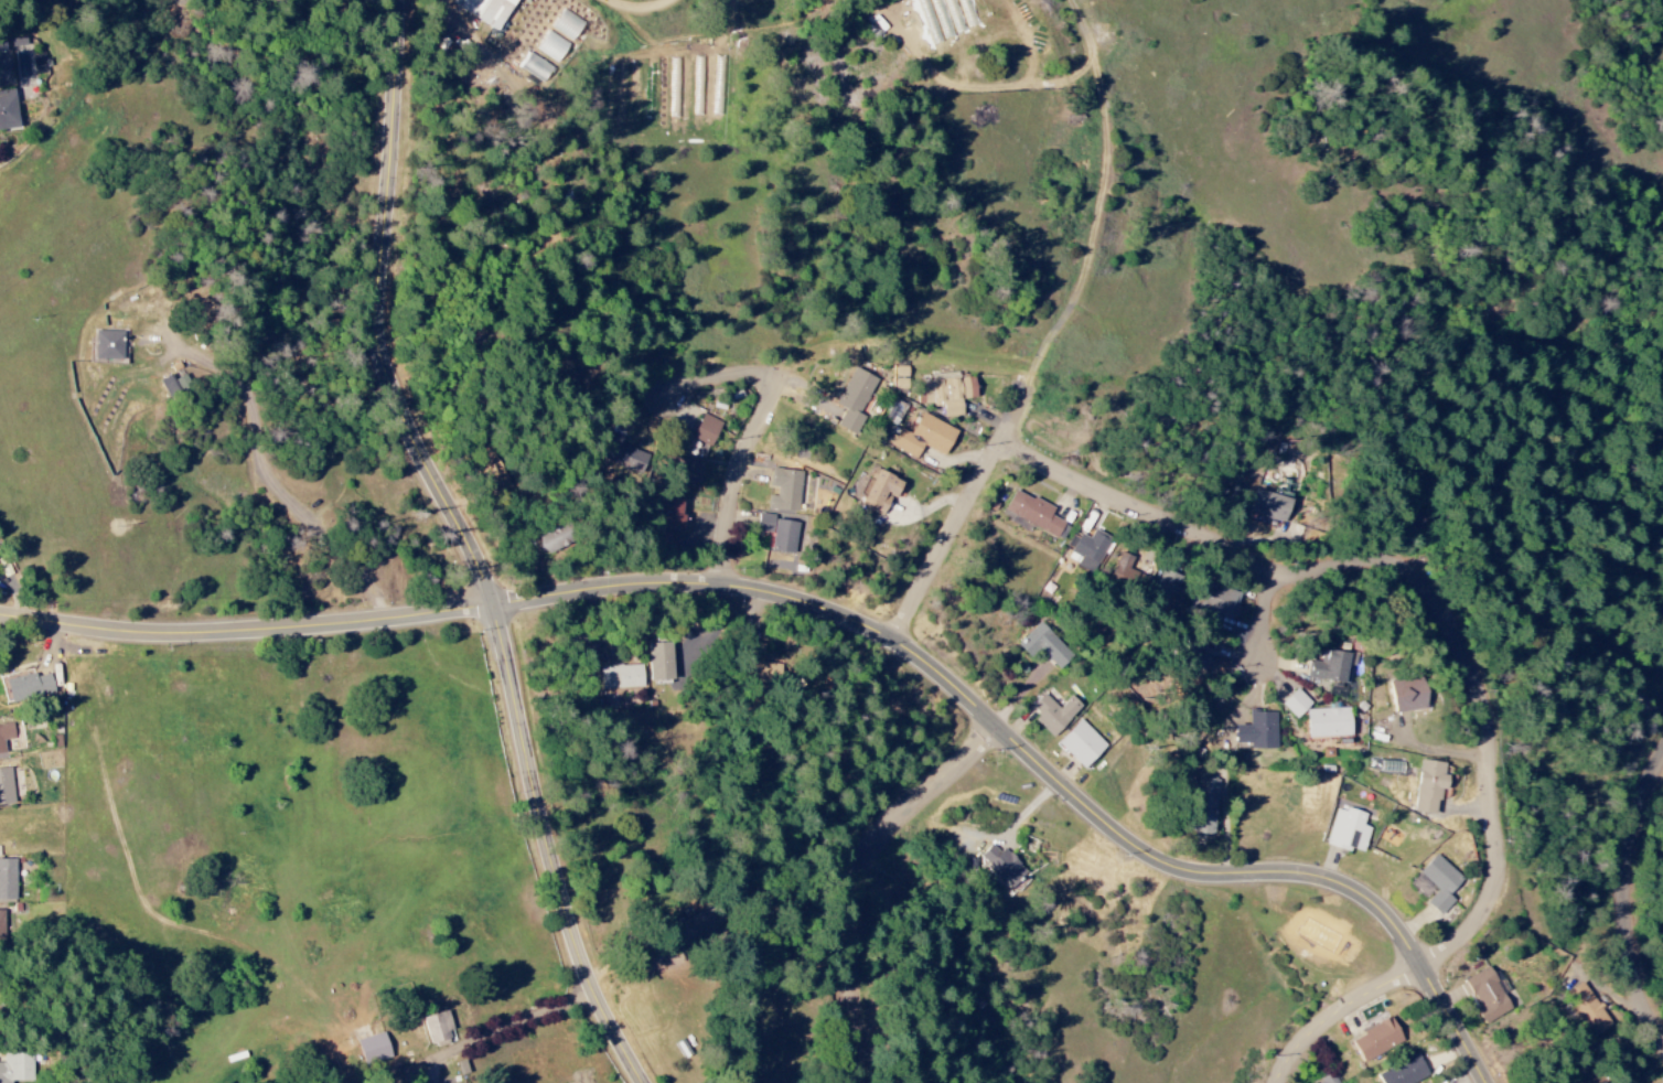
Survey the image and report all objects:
road: (651, 8)
building: (487, 10)
building: (2, 46)
building: (536, 67)
building: (8, 111)
road: (591, 274)
road: (685, 274)
building: (108, 345)
building: (174, 387)
building: (946, 394)
building: (855, 398)
road: (764, 426)
building: (707, 430)
building: (923, 438)
building: (630, 459)
building: (680, 468)
building: (784, 491)
building: (881, 492)
building: (1269, 506)
road: (967, 511)
building: (1036, 515)
building: (668, 519)
building: (765, 524)
building: (784, 537)
building: (551, 540)
road: (474, 547)
building: (1088, 550)
building: (1122, 569)
building: (1167, 587)
building: (1222, 602)
road: (837, 611)
road: (1270, 623)
building: (1044, 646)
road: (1468, 652)
building: (661, 663)
building: (1339, 669)
building: (621, 677)
building: (29, 688)
building: (1414, 697)
building: (1301, 706)
building: (1054, 714)
building: (1333, 725)
building: (1262, 733)
building: (6, 734)
building: (1082, 744)
building: (6, 787)
building: (1429, 787)
building: (1205, 807)
building: (1347, 830)
building: (1002, 867)
road: (863, 876)
building: (7, 879)
building: (1440, 884)
road: (1629, 900)
building: (2, 923)
building: (701, 927)
building: (1489, 995)
building: (1587, 1009)
building: (438, 1029)
road: (496, 1031)
building: (1375, 1040)
building: (374, 1048)
building: (17, 1066)
building: (1404, 1072)
building: (1331, 1080)

